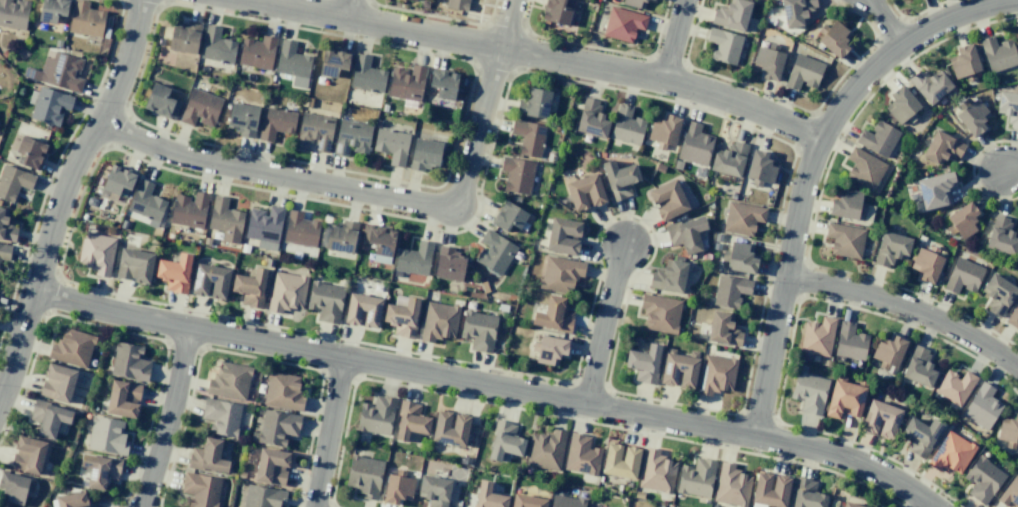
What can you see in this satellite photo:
building: (412, 0)
building: (634, 3)
building: (457, 4)
road: (350, 9)
building: (52, 10)
building: (557, 11)
building: (796, 11)
building: (13, 14)
building: (731, 15)
building: (85, 19)
road: (887, 19)
road: (511, 24)
building: (623, 24)
building: (183, 37)
road: (673, 38)
building: (834, 39)
building: (723, 45)
building: (216, 46)
building: (257, 52)
building: (997, 54)
road: (540, 55)
building: (964, 61)
building: (333, 62)
building: (768, 62)
building: (292, 64)
building: (59, 72)
building: (803, 72)
building: (366, 75)
building: (406, 82)
building: (442, 84)
building: (929, 85)
building: (160, 101)
building: (533, 104)
building: (901, 105)
building: (50, 106)
building: (1008, 107)
building: (200, 108)
building: (972, 117)
building: (241, 119)
building: (591, 119)
building: (275, 123)
building: (626, 126)
building: (664, 129)
building: (315, 131)
building: (528, 137)
building: (351, 138)
building: (878, 139)
building: (694, 144)
building: (391, 145)
building: (942, 148)
building: (30, 152)
building: (424, 155)
building: (729, 159)
road: (1008, 167)
building: (759, 168)
building: (864, 169)
building: (516, 174)
road: (808, 175)
building: (619, 179)
building: (117, 180)
building: (13, 182)
building: (935, 190)
road: (62, 192)
building: (584, 192)
road: (354, 194)
building: (667, 200)
building: (146, 203)
building: (189, 210)
building: (508, 216)
building: (742, 218)
building: (225, 220)
building: (963, 220)
building: (6, 227)
building: (264, 227)
building: (299, 229)
building: (685, 234)
building: (563, 236)
building: (1001, 236)
building: (340, 237)
building: (379, 239)
building: (844, 240)
building: (891, 248)
building: (494, 252)
building: (96, 253)
building: (740, 258)
building: (413, 259)
building: (448, 264)
building: (134, 265)
building: (926, 265)
building: (174, 273)
building: (559, 274)
building: (962, 276)
building: (668, 277)
building: (210, 281)
building: (250, 287)
building: (730, 291)
building: (286, 292)
building: (997, 294)
building: (325, 301)
road: (908, 307)
building: (362, 310)
building: (660, 313)
building: (553, 315)
building: (402, 317)
building: (1013, 317)
building: (438, 321)
road: (606, 326)
building: (478, 330)
building: (723, 330)
building: (817, 337)
building: (849, 342)
building: (72, 348)
building: (549, 350)
building: (888, 353)
building: (128, 362)
building: (643, 363)
building: (919, 367)
building: (678, 370)
building: (716, 374)
building: (229, 381)
building: (57, 383)
road: (486, 387)
building: (954, 387)
building: (282, 391)
building: (809, 392)
building: (123, 399)
building: (844, 399)
building: (981, 406)
building: (221, 416)
building: (376, 416)
building: (48, 418)
road: (167, 418)
building: (880, 419)
building: (410, 421)
building: (277, 427)
building: (450, 428)
building: (1008, 429)
road: (334, 433)
building: (920, 435)
building: (106, 436)
building: (504, 441)
building: (545, 450)
building: (950, 453)
building: (27, 455)
building: (581, 455)
building: (207, 456)
building: (620, 461)
building: (271, 466)
building: (99, 470)
building: (656, 472)
building: (364, 475)
building: (696, 478)
building: (982, 479)
building: (731, 486)
building: (14, 488)
building: (397, 488)
building: (200, 489)
building: (434, 490)
building: (770, 490)
building: (1010, 493)
building: (806, 494)
building: (488, 496)
building: (262, 497)
building: (71, 500)
building: (527, 501)
building: (565, 501)
building: (849, 504)

